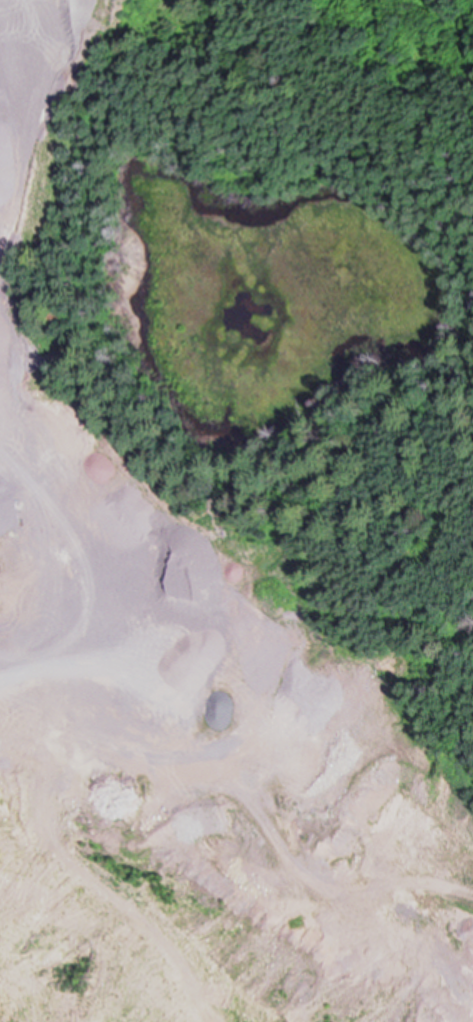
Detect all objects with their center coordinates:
road: (37, 31)
quarry: (53, 89)
quarry: (236, 511)
quarry: (216, 746)

